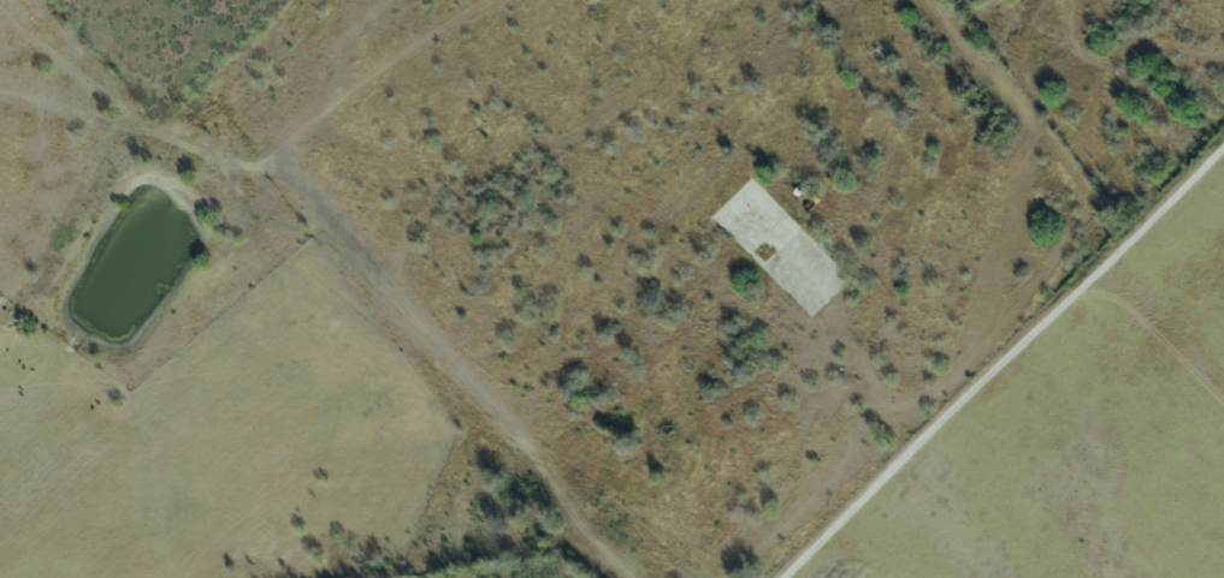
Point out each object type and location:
road: (1000, 360)

